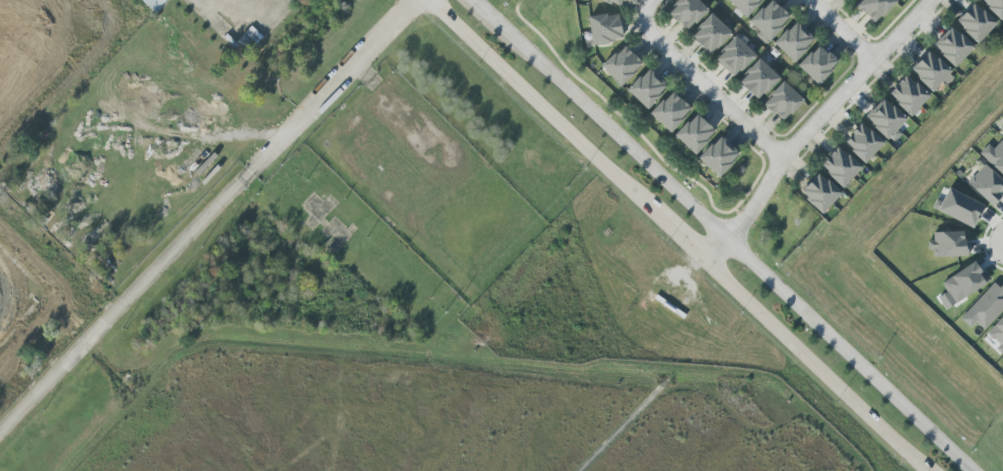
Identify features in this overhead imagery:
building: (851, 0)
road: (211, 1)
building: (613, 1)
building: (1001, 1)
building: (735, 2)
building: (865, 5)
building: (747, 6)
building: (995, 7)
road: (647, 8)
building: (681, 8)
building: (879, 9)
road: (487, 10)
building: (692, 15)
building: (764, 15)
building: (980, 18)
building: (603, 21)
building: (774, 24)
building: (705, 28)
building: (971, 28)
road: (240, 30)
road: (841, 30)
building: (605, 35)
building: (788, 37)
building: (714, 38)
building: (957, 41)
building: (798, 46)
building: (729, 51)
building: (947, 51)
building: (616, 60)
building: (739, 61)
building: (812, 61)
building: (935, 65)
building: (626, 70)
building: (822, 70)
building: (753, 73)
building: (925, 75)
building: (762, 83)
building: (642, 84)
road: (709, 90)
building: (913, 90)
building: (652, 93)
building: (778, 96)
building: (903, 100)
building: (788, 106)
building: (665, 107)
road: (543, 108)
building: (890, 113)
building: (675, 116)
road: (624, 118)
building: (880, 123)
road: (811, 126)
building: (689, 129)
building: (1002, 135)
building: (699, 138)
building: (868, 138)
building: (858, 148)
building: (713, 151)
building: (994, 156)
building: (723, 161)
building: (845, 162)
building: (835, 172)
building: (987, 184)
building: (824, 188)
building: (815, 198)
building: (958, 207)
road: (207, 215)
road: (681, 239)
road: (983, 242)
road: (998, 242)
road: (743, 243)
building: (948, 244)
road: (310, 266)
building: (963, 282)
building: (984, 307)
building: (998, 334)
road: (814, 367)
road: (617, 431)

